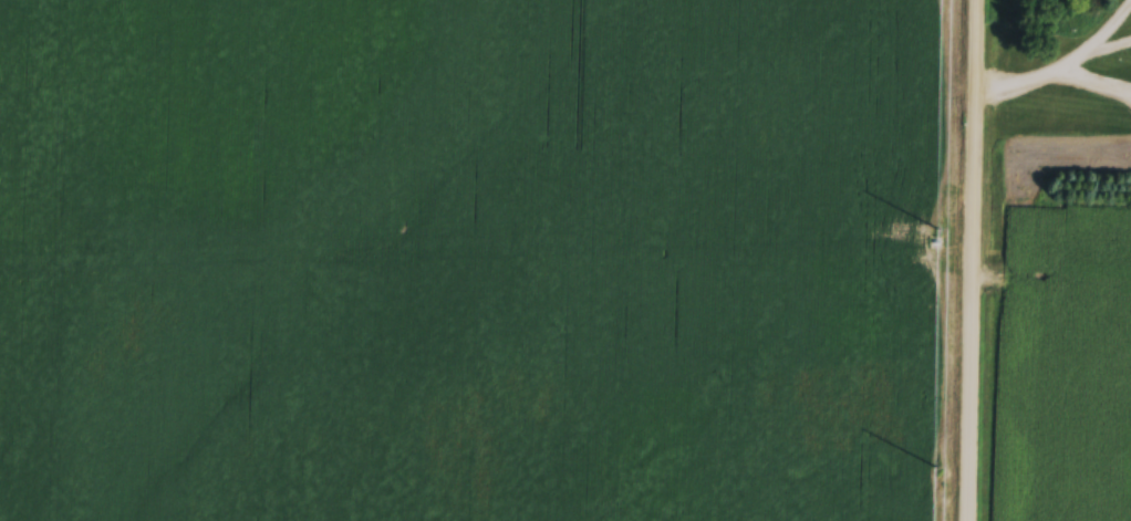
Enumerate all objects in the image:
road: (1066, 65)
road: (975, 260)

